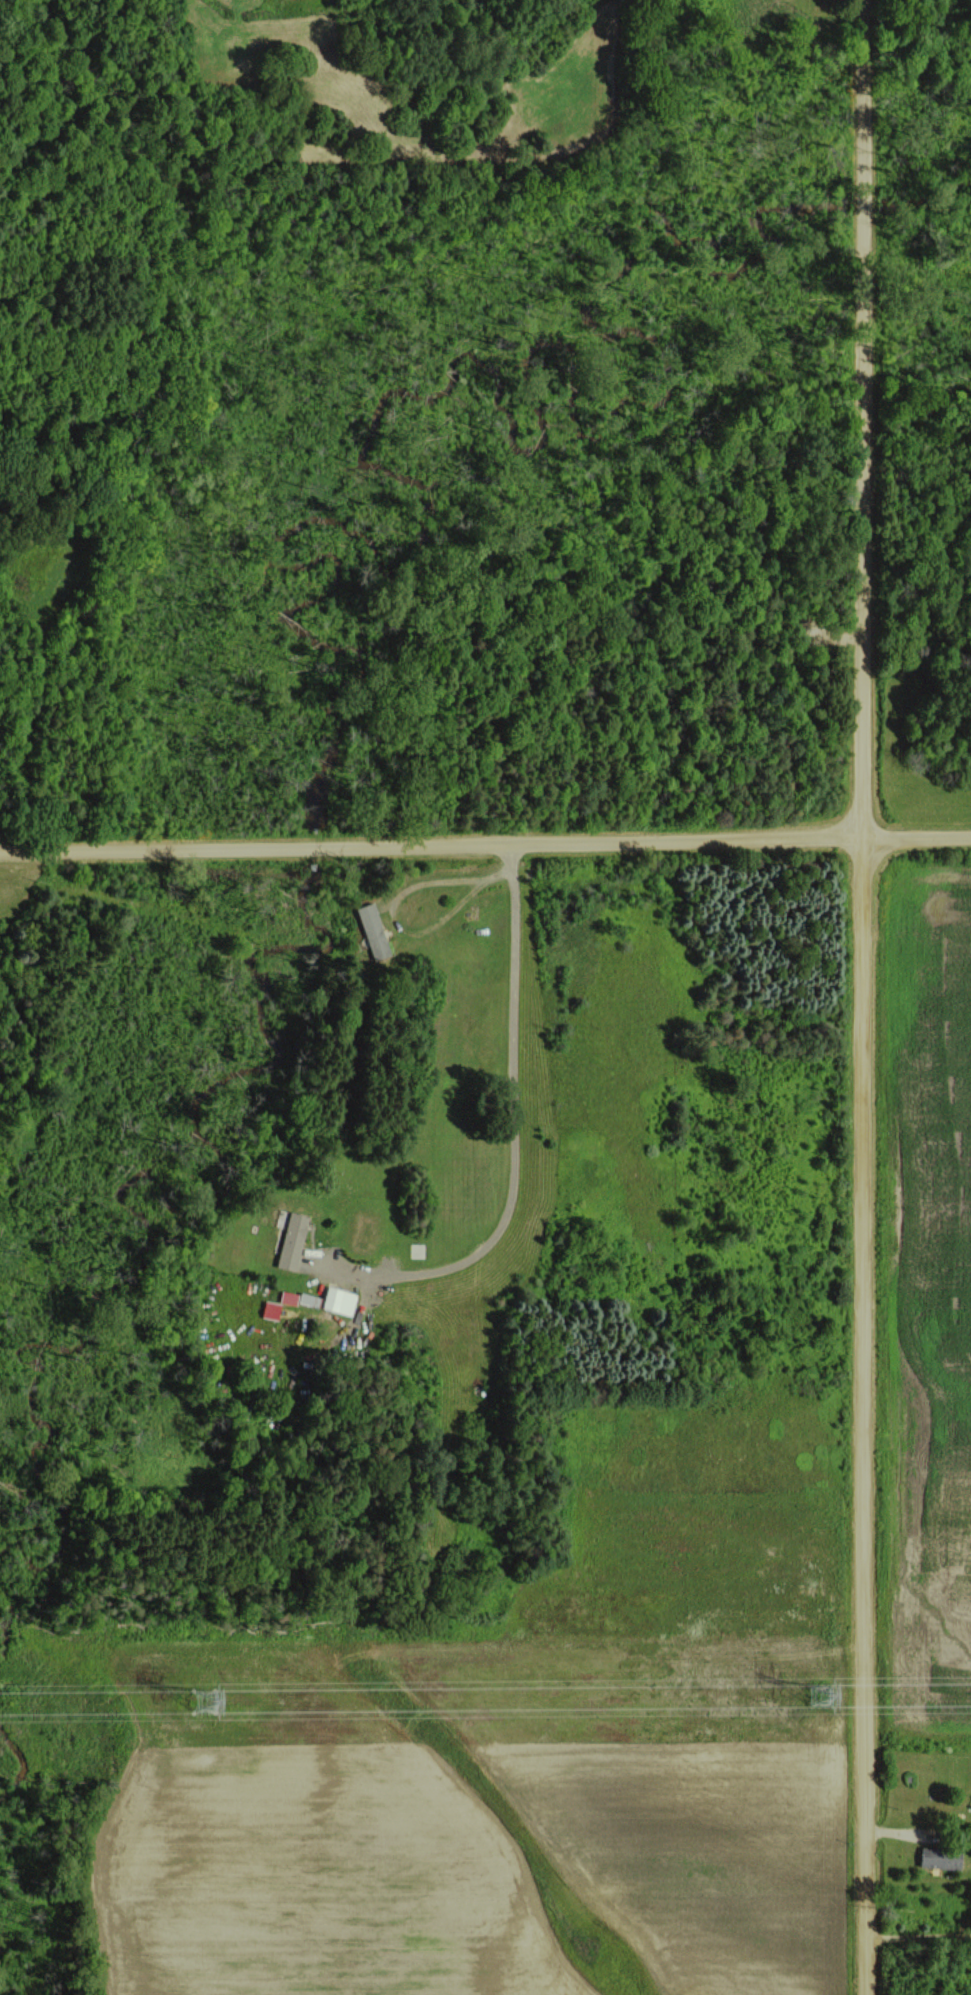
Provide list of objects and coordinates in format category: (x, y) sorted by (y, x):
road: (485, 848)
building: (373, 930)
road: (863, 997)
road: (515, 1137)
building: (292, 1241)
building: (289, 1297)
building: (309, 1299)
building: (339, 1300)
building: (272, 1309)
power tower: (821, 1694)
power tower: (207, 1701)
building: (940, 1858)
road: (921, 1934)

